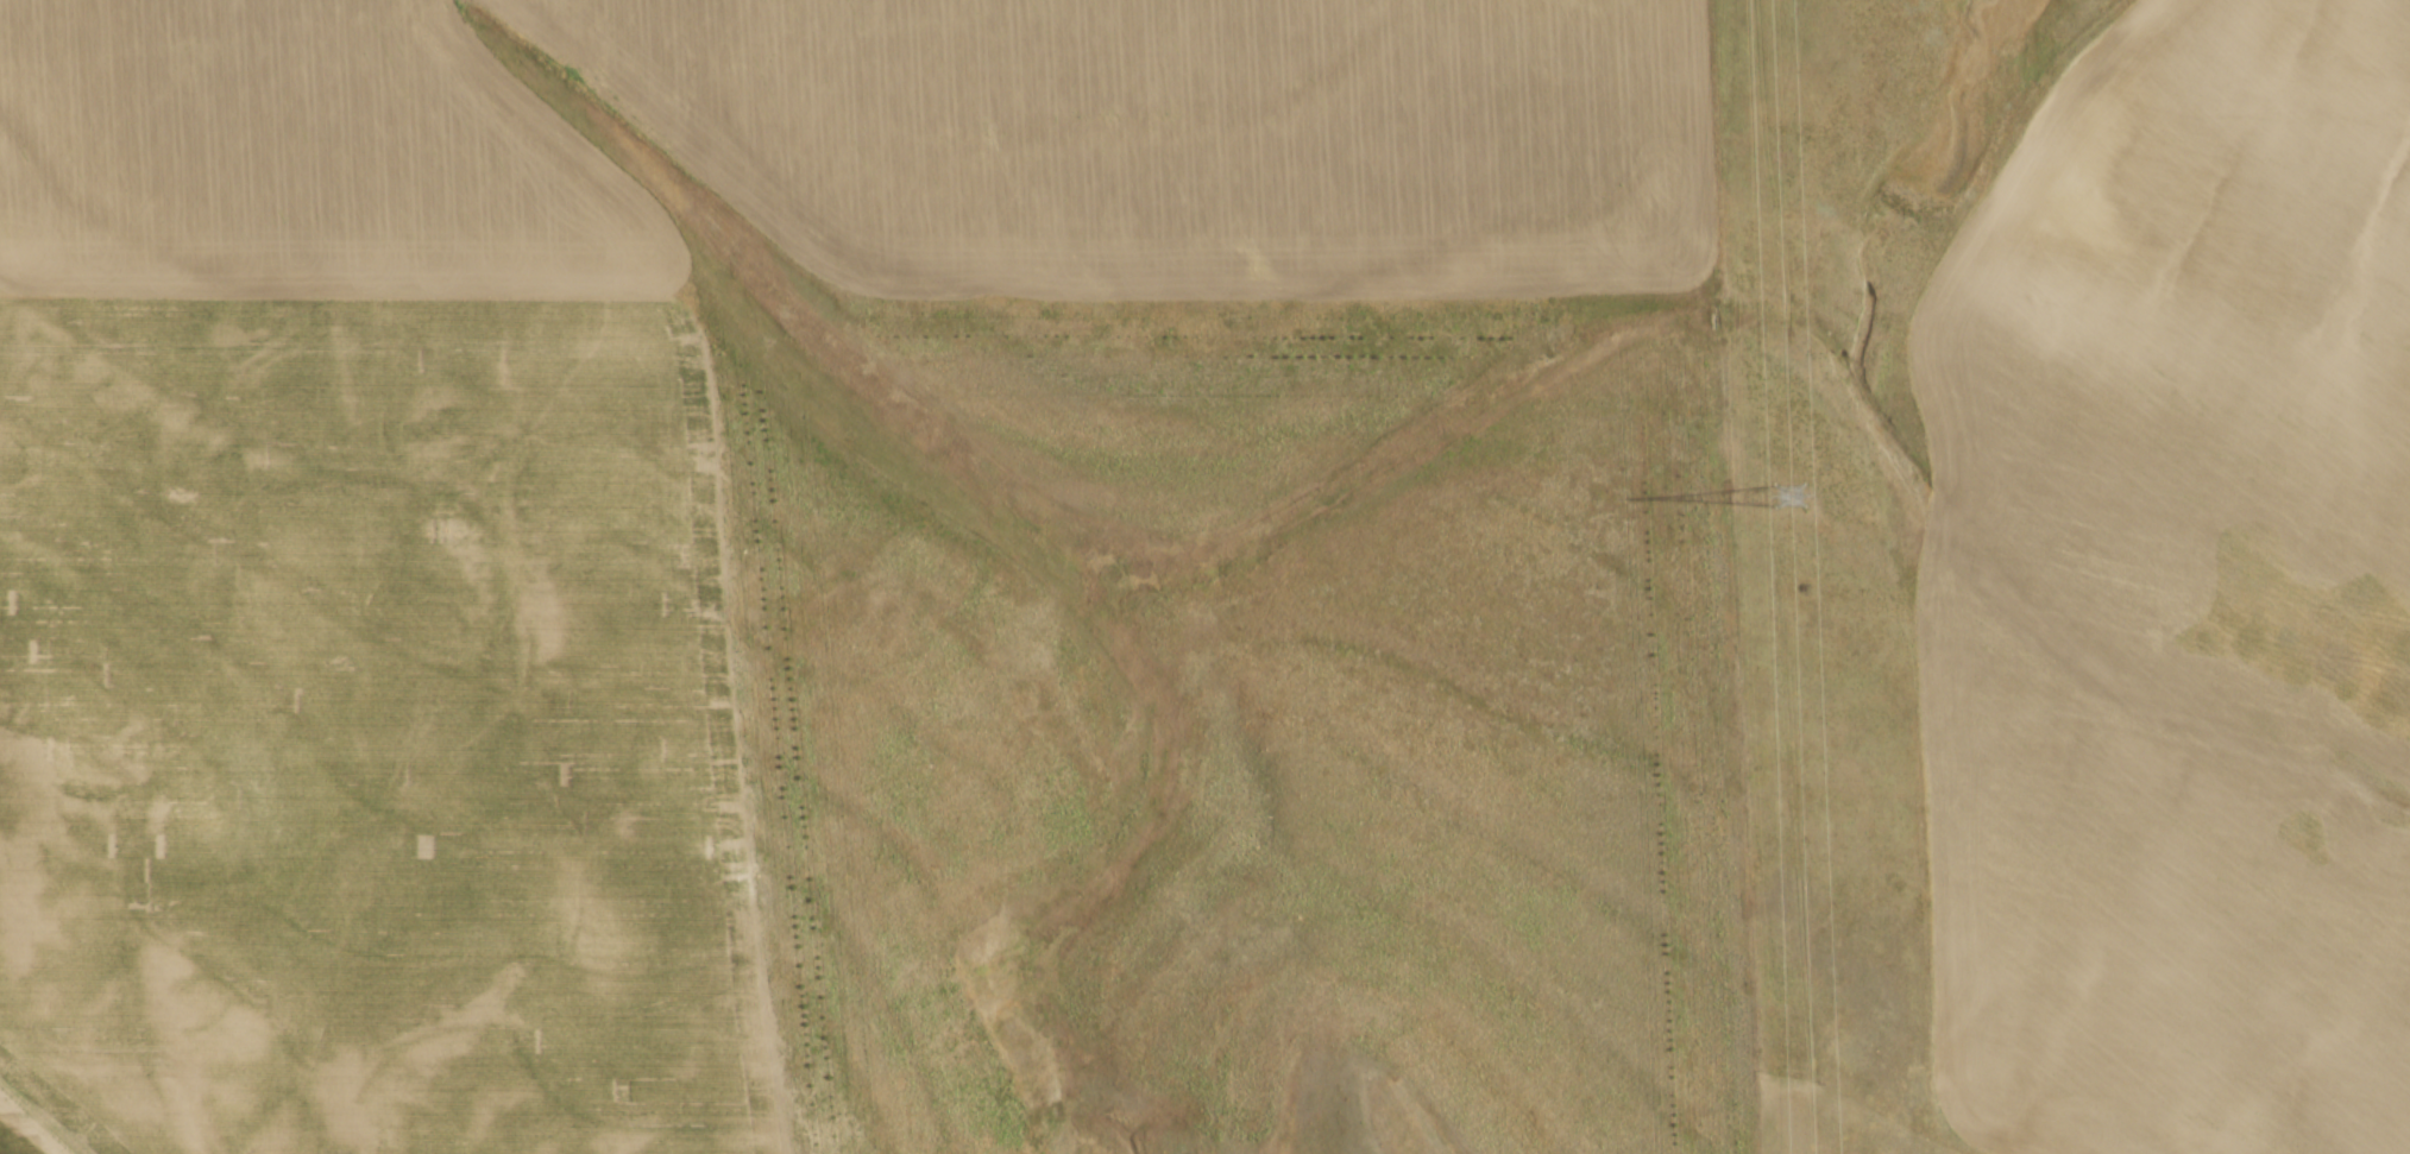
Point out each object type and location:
power tower: (1783, 493)

